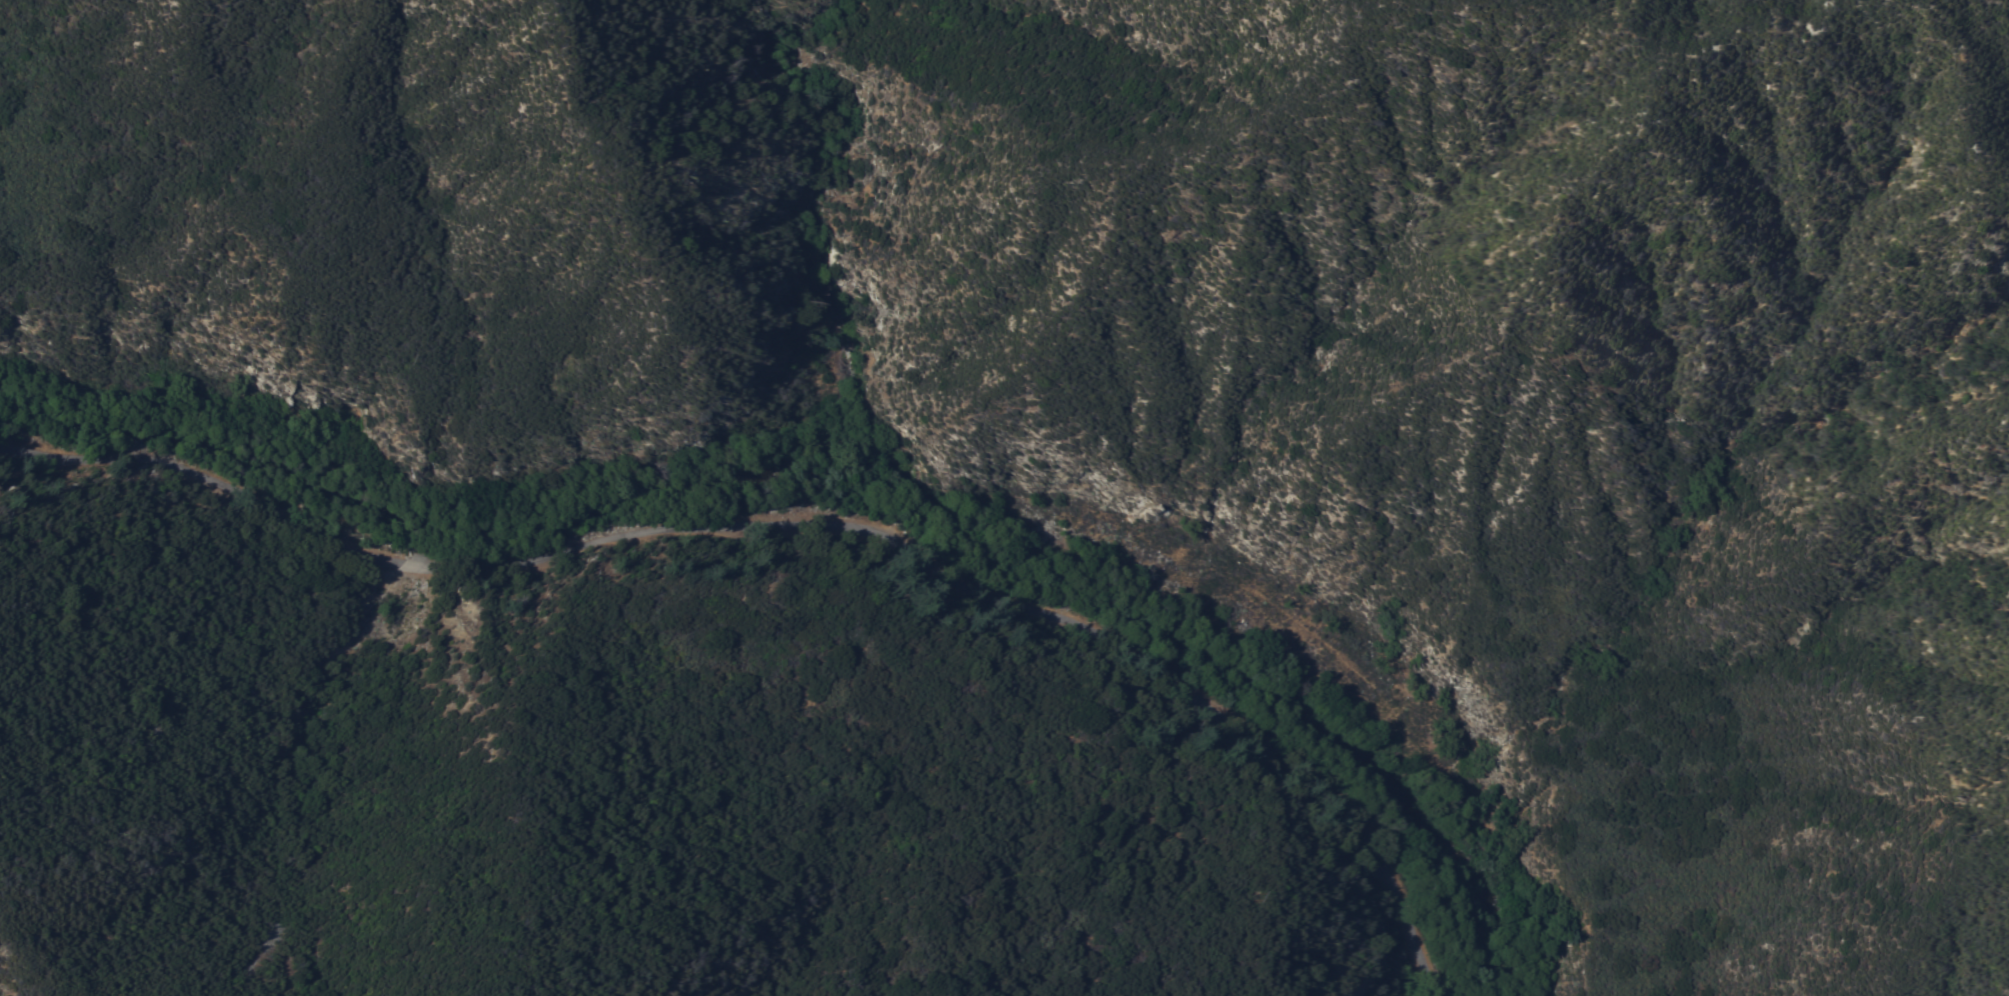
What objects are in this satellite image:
river: (854, 457)
road: (806, 523)

